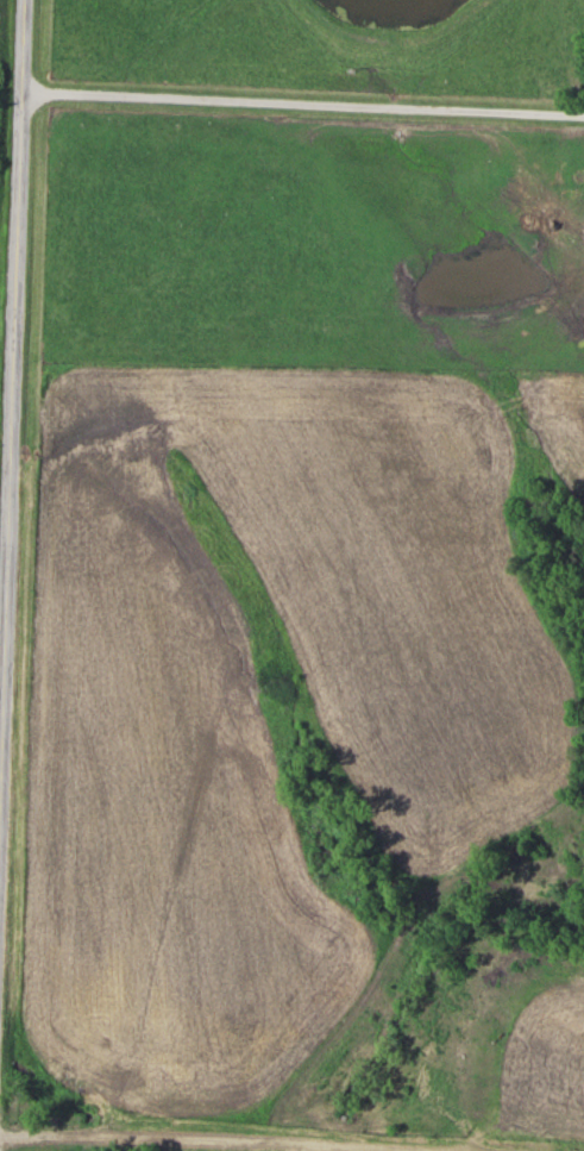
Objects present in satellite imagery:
road: (301, 104)
road: (11, 575)

